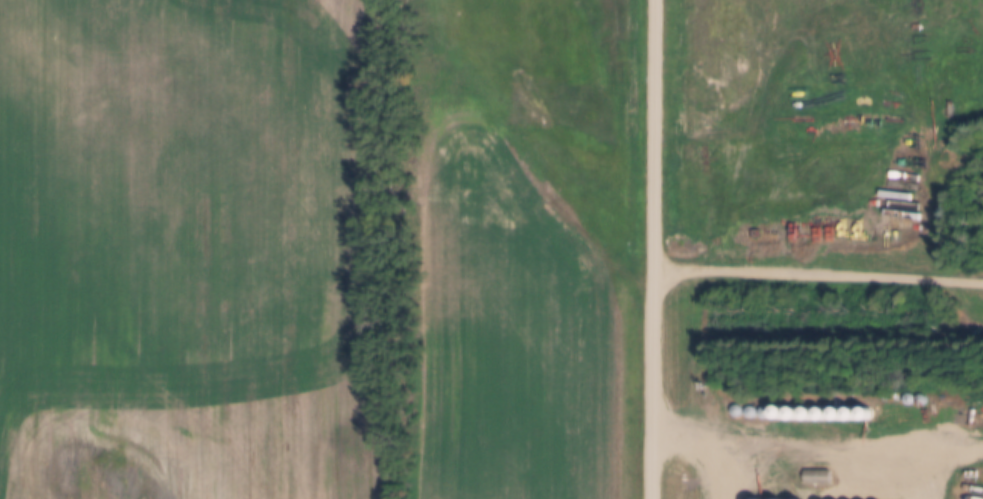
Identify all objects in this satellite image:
road: (652, 249)
road: (817, 274)
building: (814, 416)
road: (817, 442)
building: (816, 479)

